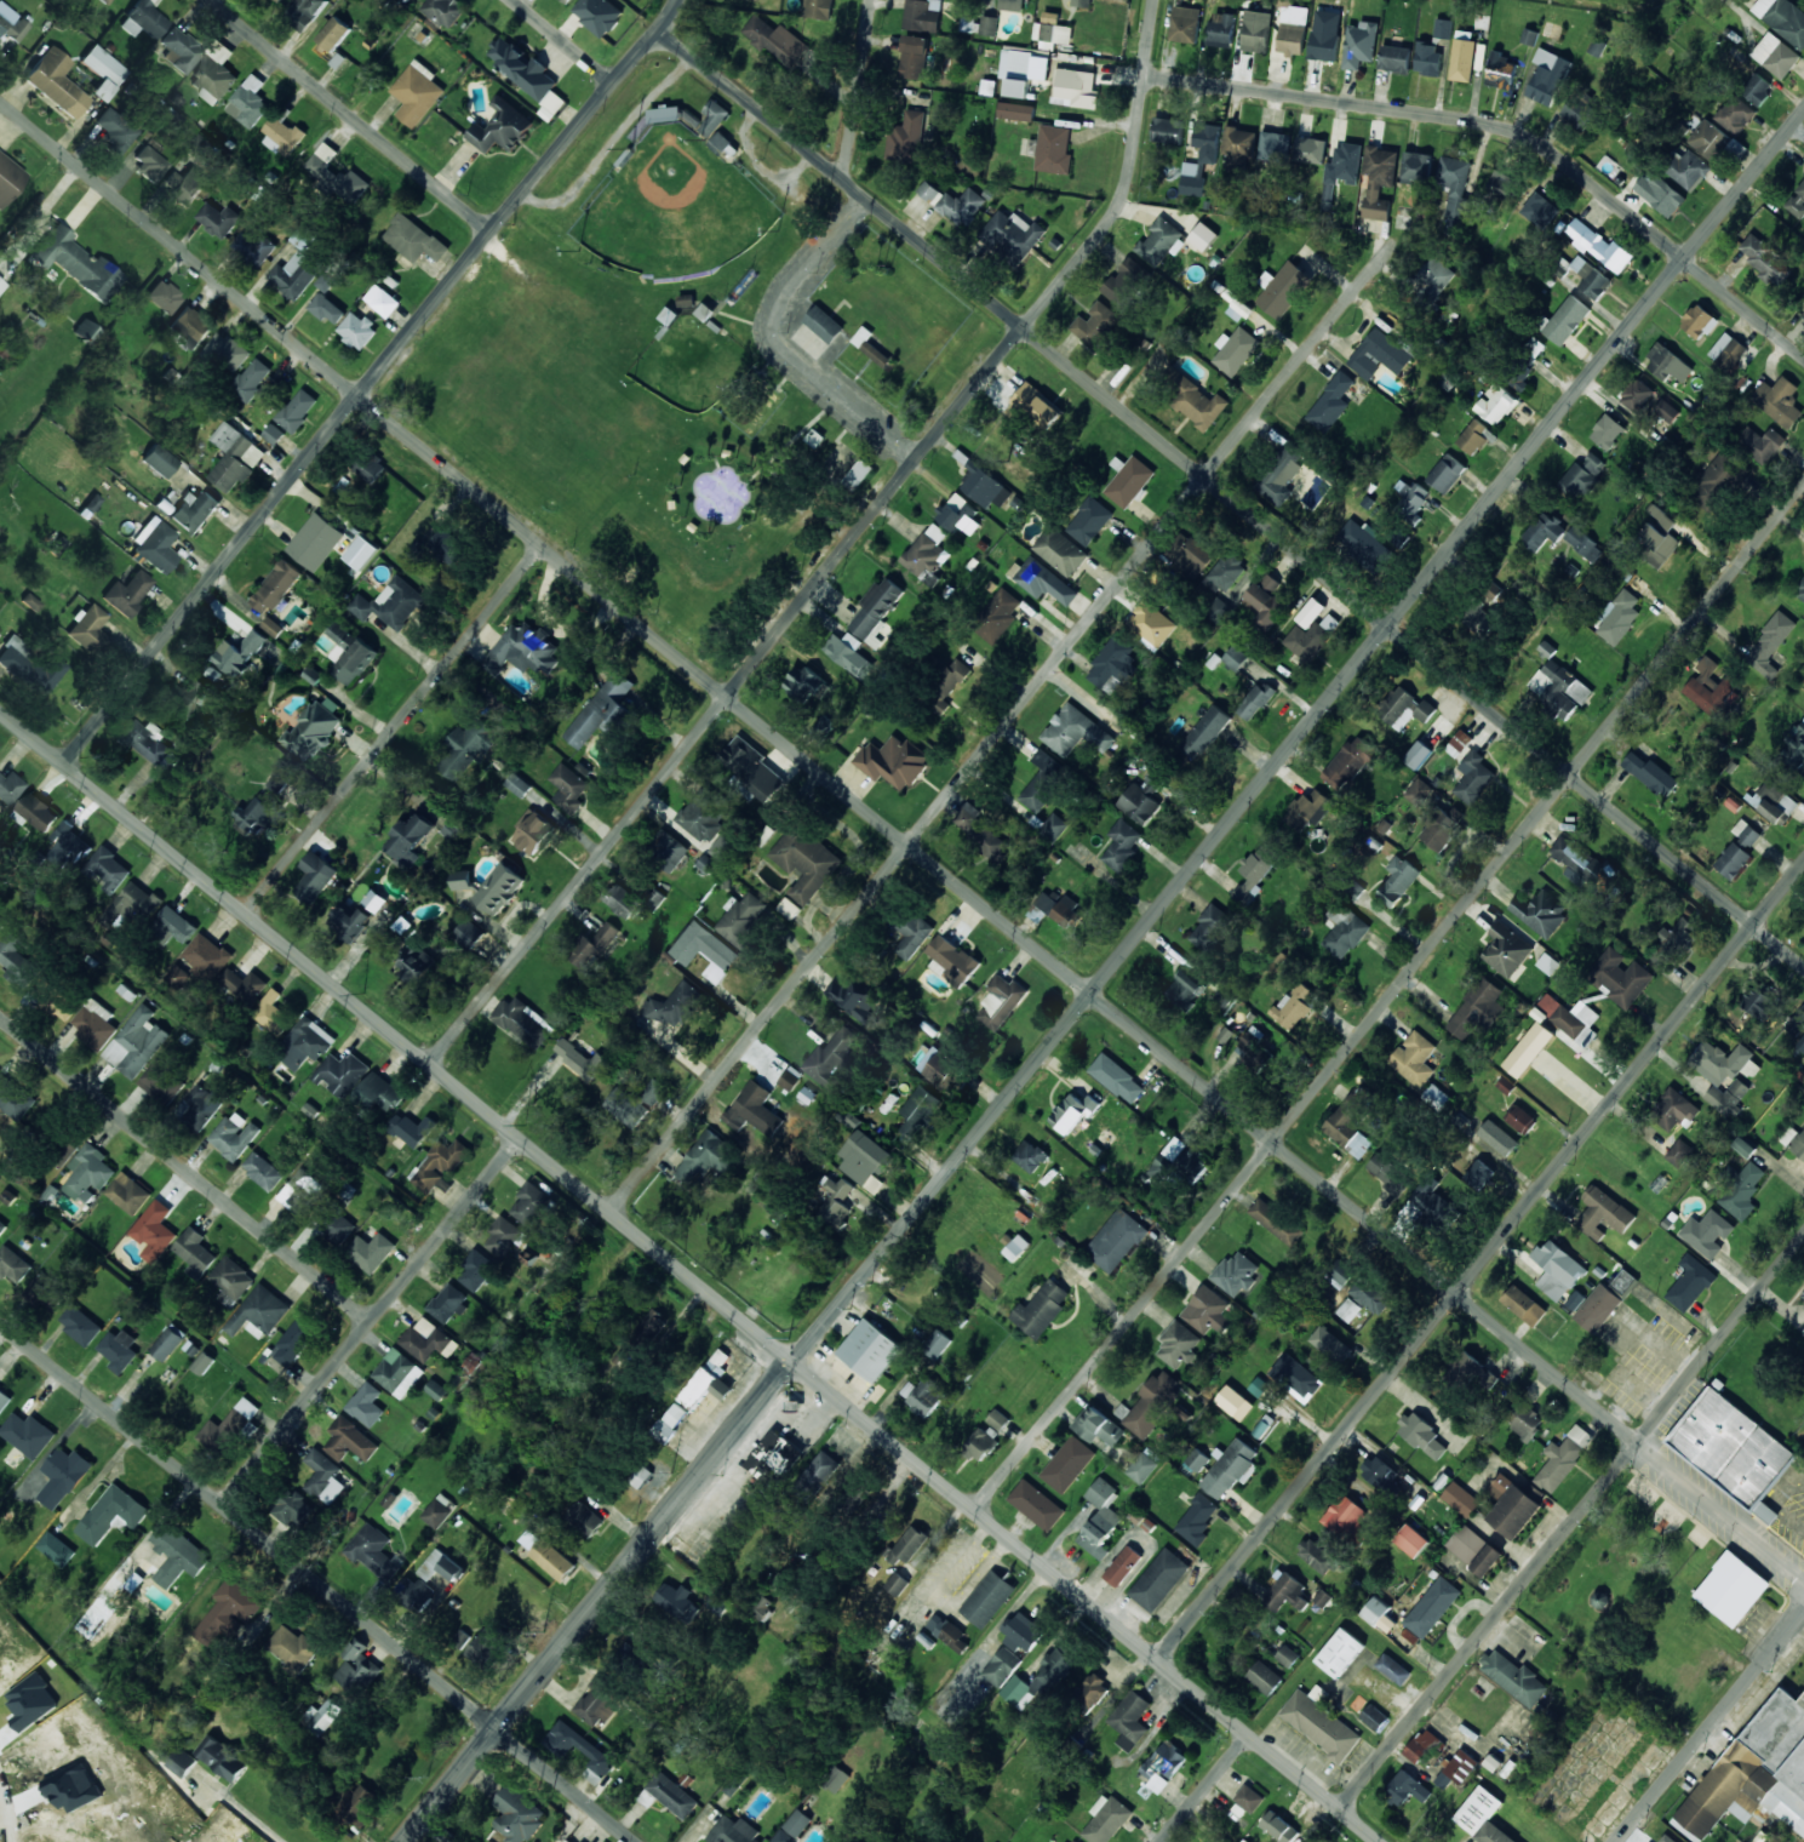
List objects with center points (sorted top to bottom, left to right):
building: (568, 0)
building: (104, 1)
building: (1803, 1)
building: (1082, 2)
building: (1012, 5)
building: (819, 8)
building: (441, 12)
building: (305, 13)
building: (597, 15)
building: (922, 15)
building: (1782, 18)
building: (143, 19)
building: (11, 23)
building: (1185, 24)
building: (989, 25)
building: (1443, 28)
building: (1221, 29)
building: (1256, 30)
building: (1293, 30)
building: (1552, 30)
building: (333, 33)
building: (1052, 35)
building: (1529, 36)
road: (567, 38)
building: (775, 40)
building: (1359, 44)
building: (1324, 45)
building: (1596, 47)
building: (179, 51)
building: (1775, 55)
building: (915, 56)
building: (1394, 58)
building: (1428, 58)
building: (1023, 69)
building: (1500, 70)
building: (102, 71)
building: (527, 74)
building: (1547, 76)
building: (212, 79)
building: (55, 82)
building: (1076, 87)
building: (1757, 88)
road: (857, 90)
building: (417, 92)
building: (248, 102)
building: (1015, 110)
building: (1579, 111)
building: (665, 114)
building: (1735, 114)
road: (351, 115)
building: (712, 118)
building: (502, 127)
building: (1167, 130)
building: (114, 131)
road: (1508, 133)
building: (907, 136)
building: (284, 137)
building: (1709, 139)
building: (725, 143)
building: (1237, 145)
building: (1275, 145)
building: (200, 147)
building: (1053, 149)
building: (1311, 149)
building: (1199, 160)
building: (149, 164)
building: (1345, 164)
building: (1416, 166)
building: (1690, 170)
building: (326, 175)
building: (8, 178)
building: (1379, 181)
building: (1501, 185)
building: (183, 187)
building: (1454, 188)
building: (1660, 193)
building: (1797, 201)
park: (672, 202)
building: (955, 202)
building: (1540, 210)
building: (218, 219)
building: (1012, 235)
building: (1203, 235)
building: (303, 238)
building: (414, 239)
building: (1159, 241)
building: (1599, 245)
building: (253, 247)
building: (1768, 262)
building: (76, 263)
road: (809, 268)
building: (294, 274)
building: (1436, 278)
building: (1591, 278)
building: (326, 281)
building: (1126, 281)
building: (0, 285)
building: (1282, 288)
building: (162, 296)
building: (382, 299)
building: (326, 308)
building: (1238, 310)
building: (1803, 314)
building: (1567, 319)
building: (1699, 321)
building: (824, 324)
building: (1095, 324)
building: (357, 330)
building: (85, 331)
building: (1535, 345)
building: (870, 347)
building: (1235, 350)
building: (1728, 350)
building: (227, 351)
building: (1379, 354)
building: (1668, 364)
building: (1522, 378)
building: (251, 379)
road: (370, 382)
building: (1637, 395)
building: (1193, 400)
building: (1779, 400)
road: (852, 401)
building: (1330, 402)
building: (1496, 404)
building: (1035, 406)
building: (297, 410)
building: (1666, 411)
building: (1607, 431)
building: (274, 434)
building: (1474, 436)
building: (1760, 444)
building: (235, 457)
building: (159, 460)
building: (370, 465)
building: (1447, 473)
building: (859, 474)
building: (1279, 474)
building: (1585, 474)
building: (1129, 480)
building: (1717, 480)
building: (985, 488)
road: (1231, 498)
building: (1411, 500)
building: (91, 503)
building: (194, 510)
building: (960, 514)
building: (1089, 520)
building: (1544, 530)
building: (1655, 536)
building: (315, 540)
building: (1362, 542)
building: (1583, 543)
building: (155, 544)
building: (447, 547)
building: (928, 550)
building: (1060, 550)
building: (360, 553)
road: (840, 553)
building: (1193, 556)
building: (1222, 574)
building: (1044, 582)
building: (275, 587)
building: (1800, 590)
building: (127, 593)
building: (1265, 601)
building: (389, 602)
building: (876, 610)
building: (1216, 610)
building: (1310, 612)
building: (997, 617)
building: (1619, 617)
building: (1482, 619)
building: (1150, 623)
building: (273, 627)
building: (87, 628)
building: (1310, 637)
building: (1769, 645)
building: (525, 648)
building: (239, 652)
building: (848, 653)
building: (1236, 657)
building: (355, 662)
building: (1112, 663)
building: (29, 665)
building: (806, 683)
building: (946, 685)
building: (1712, 687)
building: (1559, 688)
building: (184, 696)
building: (1256, 699)
building: (1404, 708)
building: (602, 710)
road: (393, 728)
road: (1000, 728)
building: (311, 730)
building: (1075, 731)
building: (1204, 732)
building: (149, 743)
building: (1459, 743)
building: (1794, 746)
building: (468, 748)
building: (1418, 754)
building: (893, 761)
building: (1348, 762)
building: (751, 767)
building: (1648, 771)
building: (1473, 777)
building: (279, 778)
building: (1043, 779)
building: (517, 784)
building: (8, 788)
building: (568, 788)
building: (1419, 791)
building: (1142, 797)
building: (1774, 802)
building: (1308, 808)
building: (38, 811)
building: (704, 814)
building: (258, 817)
building: (1442, 824)
building: (1053, 826)
building: (978, 830)
building: (1746, 831)
building: (410, 839)
road: (903, 839)
building: (69, 842)
building: (1122, 845)
building: (725, 846)
building: (670, 852)
building: (1733, 860)
building: (806, 862)
building: (1580, 862)
building: (109, 869)
building: (1256, 871)
building: (315, 877)
building: (463, 880)
building: (1397, 880)
building: (499, 888)
building: (655, 899)
building: (374, 900)
building: (622, 900)
building: (131, 904)
building: (1059, 908)
building: (1541, 911)
building: (741, 917)
building: (349, 922)
building: (1, 925)
building: (173, 925)
building: (1210, 928)
building: (1344, 929)
building: (469, 933)
building: (912, 933)
building: (1674, 942)
building: (592, 944)
building: (1506, 949)
building: (705, 950)
building: (206, 955)
building: (17, 960)
building: (952, 960)
building: (416, 963)
building: (178, 976)
road: (1103, 976)
building: (1620, 976)
building: (244, 984)
building: (1185, 988)
road: (1388, 996)
building: (854, 1001)
building: (1001, 1002)
building: (1759, 1003)
building: (61, 1005)
building: (674, 1005)
building: (1292, 1006)
building: (1473, 1008)
building: (273, 1013)
building: (1574, 1020)
building: (523, 1022)
building: (95, 1024)
building: (137, 1041)
building: (305, 1043)
building: (1528, 1049)
building: (831, 1057)
building: (580, 1058)
building: (1256, 1058)
building: (1414, 1058)
building: (1722, 1059)
building: (943, 1070)
building: (342, 1072)
building: (790, 1077)
building: (1117, 1077)
building: (161, 1081)
building: (380, 1092)
building: (1728, 1096)
building: (13, 1099)
building: (635, 1102)
building: (201, 1104)
building: (752, 1109)
building: (918, 1110)
building: (1674, 1110)
building: (1072, 1112)
building: (1522, 1119)
building: (1351, 1122)
building: (412, 1128)
building: (234, 1135)
building: (1497, 1137)
building: (1799, 1144)
building: (1745, 1146)
building: (1679, 1152)
building: (1030, 1155)
building: (704, 1157)
building: (865, 1157)
building: (1179, 1161)
building: (440, 1165)
road: (185, 1167)
building: (262, 1171)
building: (1388, 1172)
building: (1479, 1172)
building: (88, 1173)
building: (297, 1189)
building: (1741, 1189)
building: (128, 1192)
building: (1426, 1199)
building: (531, 1203)
building: (836, 1203)
building: (1603, 1213)
building: (1276, 1222)
building: (2, 1228)
building: (154, 1230)
building: (340, 1230)
building: (1707, 1232)
building: (504, 1237)
building: (1116, 1240)
building: (1016, 1247)
building: (370, 1251)
building: (195, 1252)
road: (1481, 1260)
building: (12, 1264)
building: (1557, 1269)
building: (475, 1270)
building: (1236, 1272)
building: (1338, 1272)
road: (691, 1276)
building: (231, 1277)
building: (1623, 1281)
building: (1689, 1282)
building: (45, 1291)
building: (1802, 1293)
building: (1370, 1294)
building: (1575, 1300)
building: (447, 1303)
building: (1524, 1305)
building: (1598, 1308)
building: (1041, 1309)
building: (1348, 1309)
building: (258, 1310)
building: (1207, 1311)
road: (370, 1320)
building: (653, 1320)
building: (80, 1325)
building: (1803, 1334)
building: (425, 1339)
building: (293, 1340)
building: (166, 1343)
building: (937, 1344)
building: (1178, 1344)
building: (1331, 1344)
building: (120, 1349)
building: (870, 1350)
building: (202, 1362)
building: (397, 1373)
building: (1472, 1374)
building: (1296, 1377)
building: (709, 1380)
building: (926, 1397)
building: (4, 1398)
building: (1235, 1402)
building: (1152, 1403)
building: (366, 1405)
building: (671, 1419)
building: (998, 1419)
building: (1525, 1420)
building: (227, 1426)
building: (1098, 1426)
building: (28, 1434)
building: (1421, 1435)
building: (349, 1440)
building: (981, 1442)
building: (1733, 1451)
building: (771, 1455)
building: (1563, 1458)
building: (1197, 1459)
building: (1067, 1464)
building: (1144, 1465)
building: (1231, 1468)
building: (821, 1469)
building: (1378, 1471)
building: (63, 1475)
building: (322, 1475)
building: (641, 1476)
building: (1461, 1498)
building: (1036, 1504)
building: (1512, 1506)
building: (292, 1508)
building: (439, 1510)
building: (111, 1512)
building: (1100, 1517)
building: (1346, 1517)
building: (583, 1518)
building: (1197, 1520)
road: (1571, 1521)
building: (1411, 1540)
building: (907, 1545)
building: (56, 1548)
building: (1473, 1549)
building: (372, 1550)
building: (177, 1555)
building: (1316, 1555)
building: (552, 1560)
building: (441, 1566)
building: (1122, 1566)
building: (1159, 1579)
road: (317, 1581)
building: (441, 1583)
building: (897, 1583)
building: (1733, 1589)
building: (1284, 1592)
building: (412, 1594)
building: (1322, 1597)
building: (987, 1598)
building: (677, 1600)
building: (1432, 1607)
building: (228, 1609)
building: (1375, 1611)
building: (1021, 1631)
building: (949, 1632)
building: (460, 1637)
building: (485, 1646)
building: (292, 1648)
building: (1340, 1652)
building: (1287, 1655)
building: (356, 1666)
building: (1002, 1666)
building: (1393, 1669)
building: (1264, 1677)
building: (1514, 1677)
building: (1036, 1681)
building: (1090, 1692)
building: (597, 1701)
building: (321, 1716)
building: (1374, 1717)
building: (1130, 1720)
building: (1321, 1726)
road: (1711, 1726)
building: (1421, 1745)
building: (592, 1751)
building: (222, 1757)
building: (1163, 1764)
building: (1456, 1768)
building: (1756, 1772)
building: (837, 1779)
road: (1203, 1787)
building: (1405, 1789)
building: (671, 1795)
building: (1249, 1797)
building: (359, 1804)
building: (516, 1814)
road: (5, 1815)
building: (1482, 1817)
building: (1106, 1819)
building: (792, 1826)
building: (1278, 1826)
building: (223, 1829)
building: (733, 1831)
building: (567, 1841)
building: (582, 1841)
building: (1073, 1841)
building: (1210, 1841)

